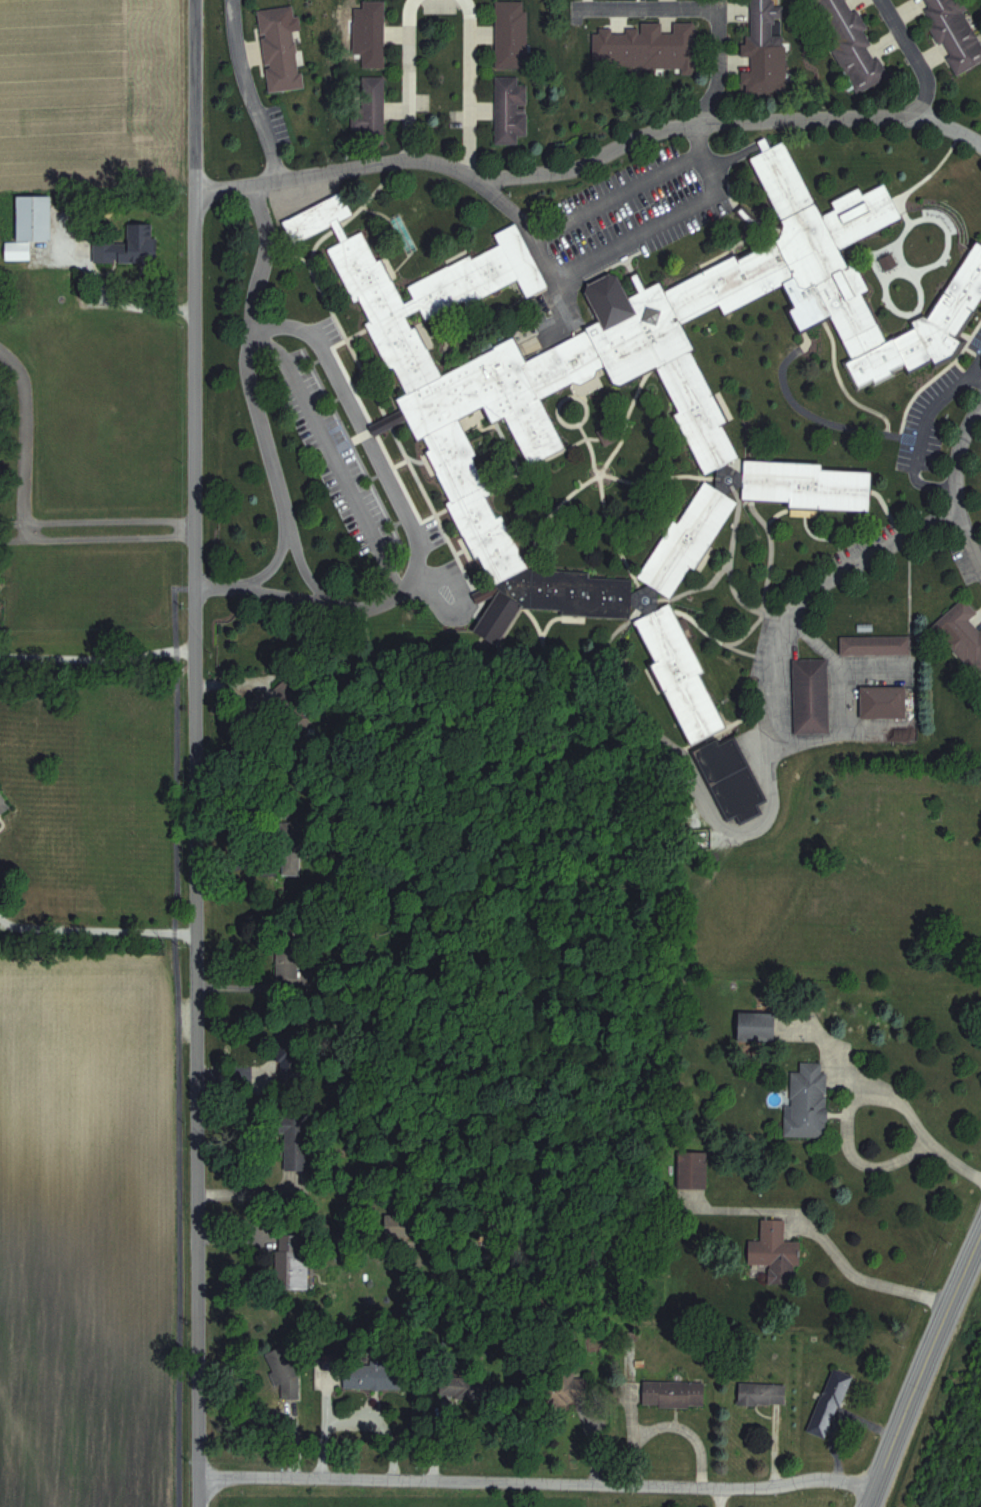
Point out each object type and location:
road: (648, 7)
building: (955, 31)
building: (373, 33)
building: (507, 33)
building: (850, 42)
building: (648, 44)
building: (766, 46)
building: (280, 48)
road: (916, 56)
road: (718, 65)
road: (409, 79)
road: (469, 86)
road: (251, 90)
building: (510, 109)
building: (370, 110)
road: (586, 161)
road: (663, 219)
building: (30, 225)
building: (129, 245)
road: (538, 245)
road: (106, 303)
road: (253, 394)
road: (21, 433)
road: (332, 454)
road: (959, 456)
road: (403, 502)
road: (96, 519)
road: (96, 537)
road: (968, 537)
road: (254, 583)
road: (801, 600)
building: (962, 632)
building: (874, 644)
road: (97, 658)
building: (811, 695)
building: (883, 701)
building: (298, 724)
road: (195, 753)
building: (731, 778)
building: (3, 804)
building: (292, 857)
road: (94, 929)
building: (286, 960)
building: (758, 1026)
road: (830, 1050)
building: (808, 1101)
road: (846, 1122)
building: (295, 1142)
road: (954, 1162)
building: (693, 1169)
building: (395, 1226)
road: (816, 1239)
building: (776, 1252)
building: (293, 1262)
road: (919, 1357)
building: (284, 1372)
building: (374, 1376)
building: (456, 1387)
building: (674, 1393)
building: (762, 1394)
building: (830, 1403)
road: (668, 1430)
road: (537, 1482)
road: (721, 1498)
road: (869, 1500)

